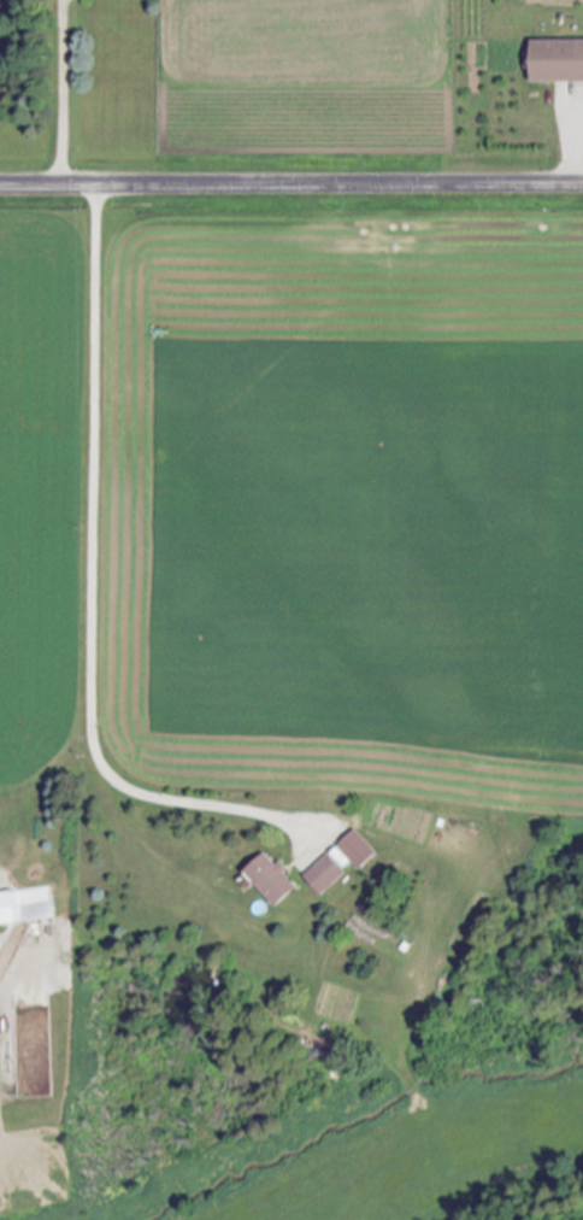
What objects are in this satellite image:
building: (552, 60)
road: (64, 92)
road: (572, 146)
road: (290, 182)
road: (92, 586)
building: (349, 849)
building: (334, 858)
building: (317, 874)
building: (263, 878)
building: (24, 905)

